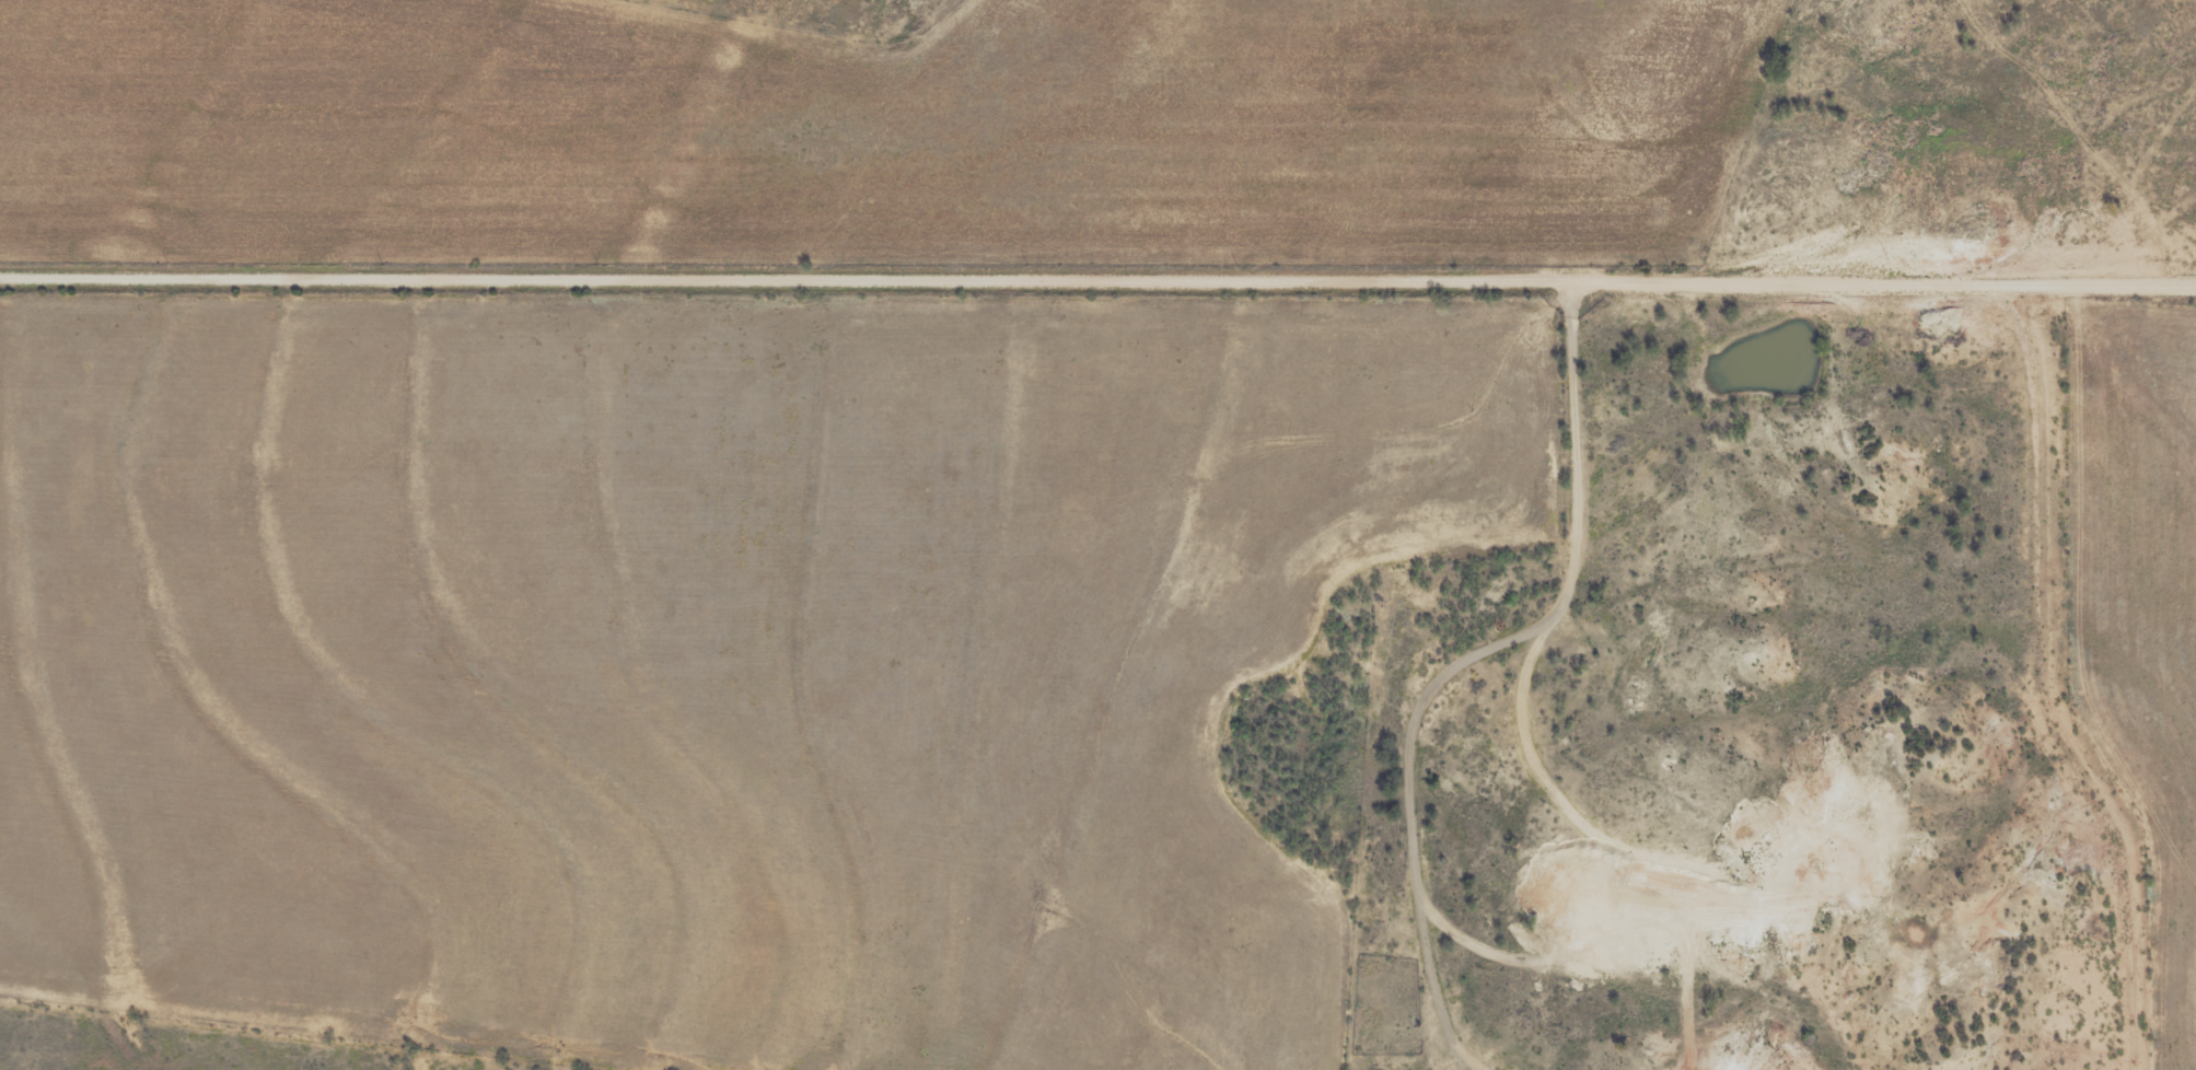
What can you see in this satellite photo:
road: (1097, 277)

